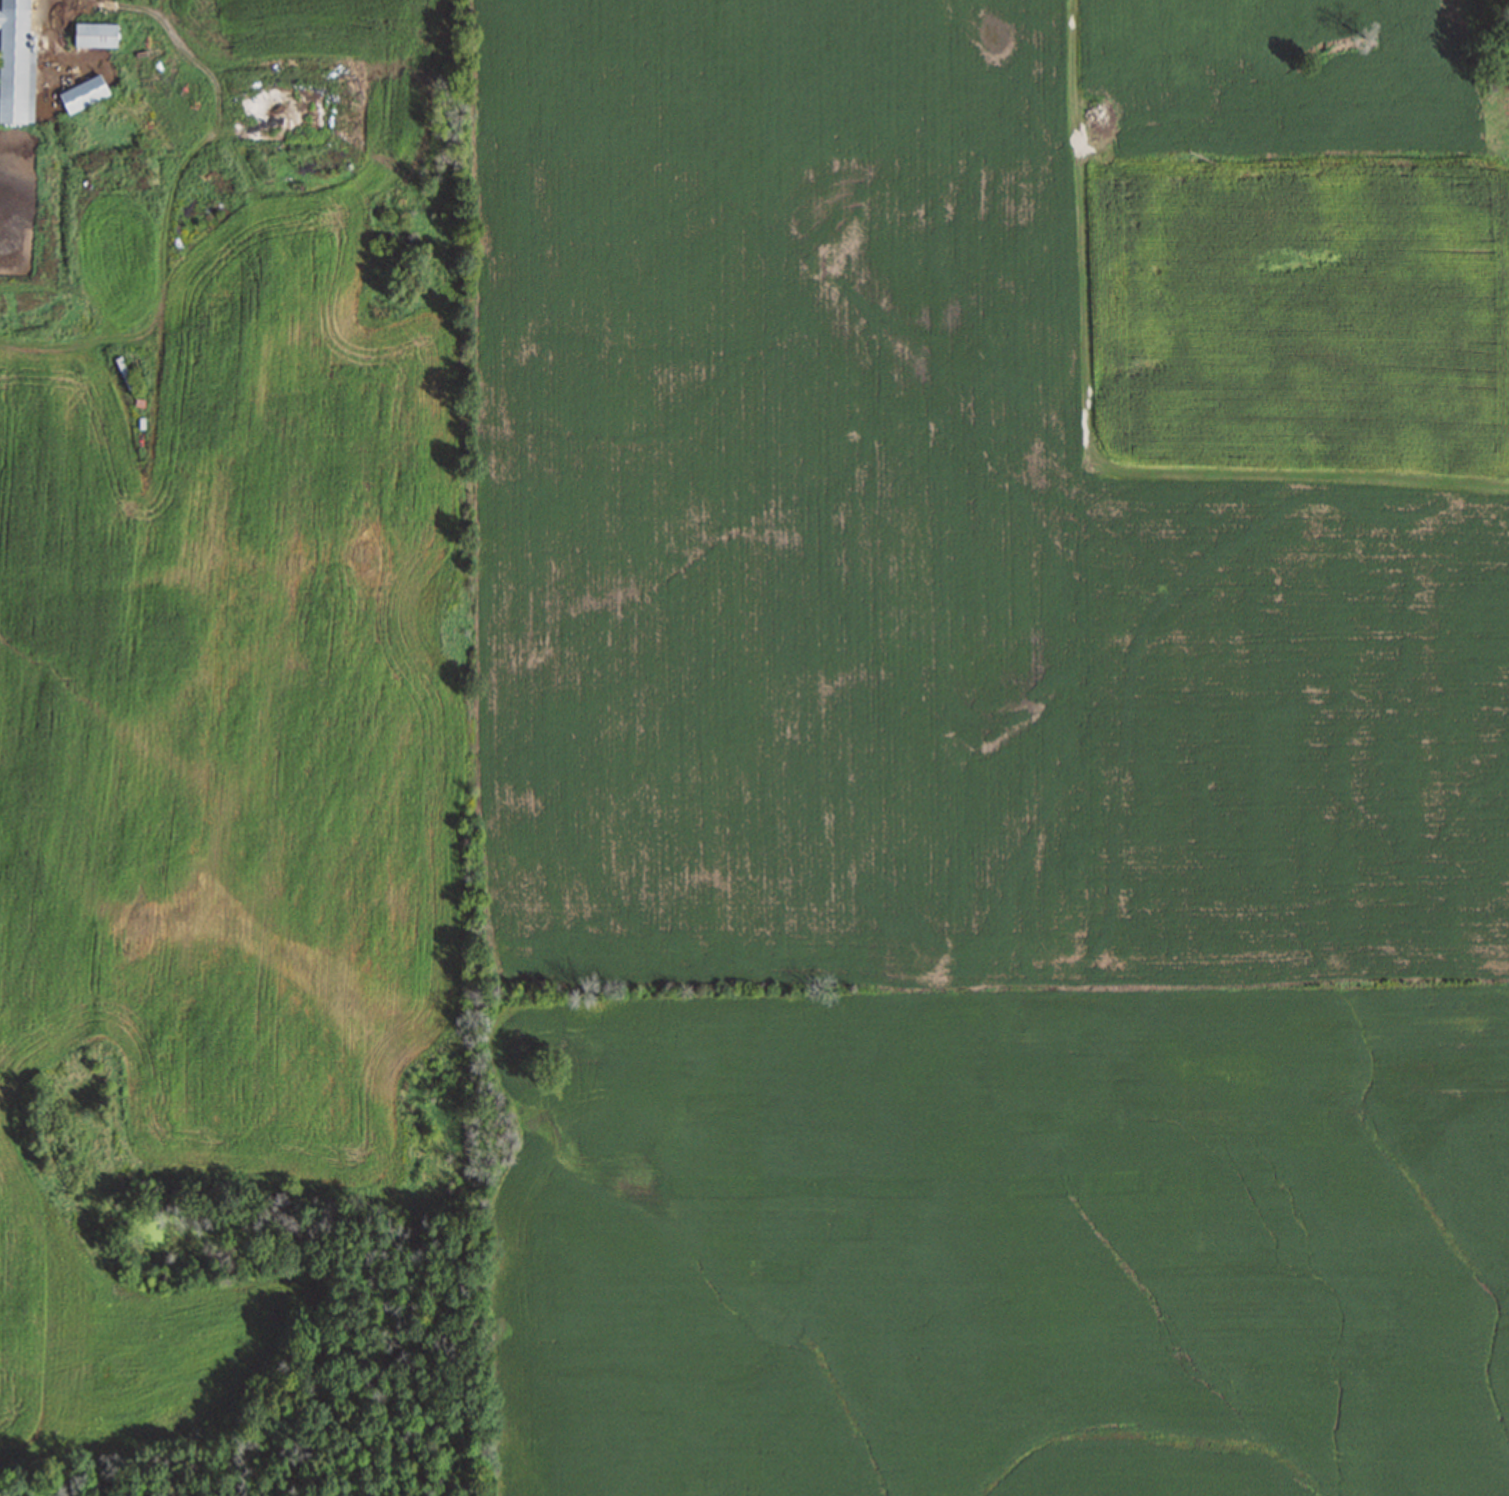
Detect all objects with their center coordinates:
building: (95, 34)
building: (15, 63)
building: (205, 293)
building: (124, 372)

